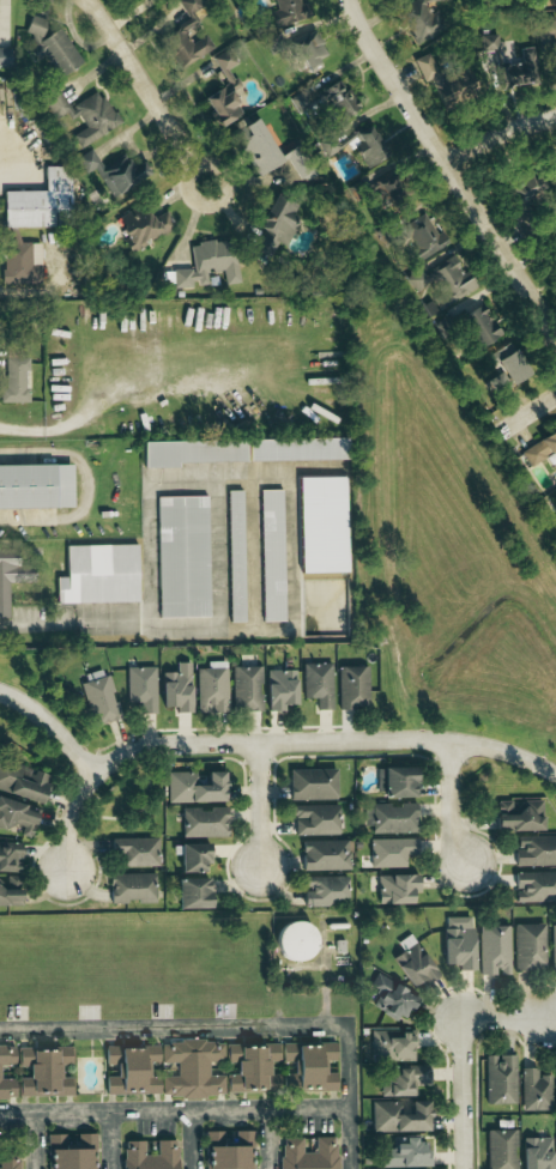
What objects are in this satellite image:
building: (289, 12)
building: (421, 19)
building: (174, 34)
road: (77, 40)
building: (49, 47)
building: (308, 52)
building: (5, 57)
building: (507, 65)
building: (442, 79)
road: (147, 91)
building: (223, 91)
building: (327, 99)
road: (498, 137)
building: (330, 146)
building: (256, 147)
building: (367, 147)
road: (446, 164)
building: (114, 172)
building: (524, 192)
building: (40, 204)
building: (277, 224)
building: (141, 226)
road: (186, 231)
building: (422, 236)
building: (19, 261)
building: (207, 264)
building: (449, 280)
building: (478, 325)
building: (507, 362)
building: (14, 380)
road: (532, 412)
road: (85, 417)
building: (296, 443)
building: (194, 444)
building: (539, 448)
building: (35, 480)
road: (89, 485)
building: (322, 516)
building: (235, 545)
building: (272, 547)
building: (183, 549)
building: (99, 568)
building: (11, 569)
road: (146, 619)
building: (318, 683)
building: (140, 688)
building: (176, 688)
building: (244, 688)
building: (279, 688)
building: (351, 688)
building: (98, 698)
road: (50, 726)
road: (217, 745)
road: (506, 753)
building: (22, 781)
building: (394, 781)
building: (312, 785)
building: (194, 787)
road: (453, 802)
road: (259, 805)
building: (518, 814)
building: (17, 818)
building: (389, 818)
building: (314, 819)
building: (203, 822)
building: (135, 850)
building: (536, 850)
building: (391, 852)
building: (325, 855)
building: (10, 856)
building: (192, 858)
building: (534, 886)
building: (131, 888)
building: (395, 888)
building: (10, 890)
building: (325, 891)
building: (192, 892)
building: (294, 940)
building: (458, 943)
building: (528, 947)
building: (552, 947)
building: (492, 950)
building: (413, 965)
building: (392, 999)
road: (506, 1019)
road: (174, 1024)
building: (389, 1044)
building: (219, 1068)
building: (34, 1072)
building: (500, 1079)
building: (404, 1080)
building: (555, 1085)
building: (534, 1090)
road: (461, 1094)
road: (349, 1096)
road: (175, 1110)
building: (398, 1117)
road: (272, 1138)
road: (191, 1139)
road: (34, 1140)
road: (113, 1140)
building: (500, 1149)
building: (229, 1150)
building: (71, 1151)
building: (406, 1152)
building: (536, 1152)
building: (308, 1153)
building: (150, 1155)
building: (8, 1161)

